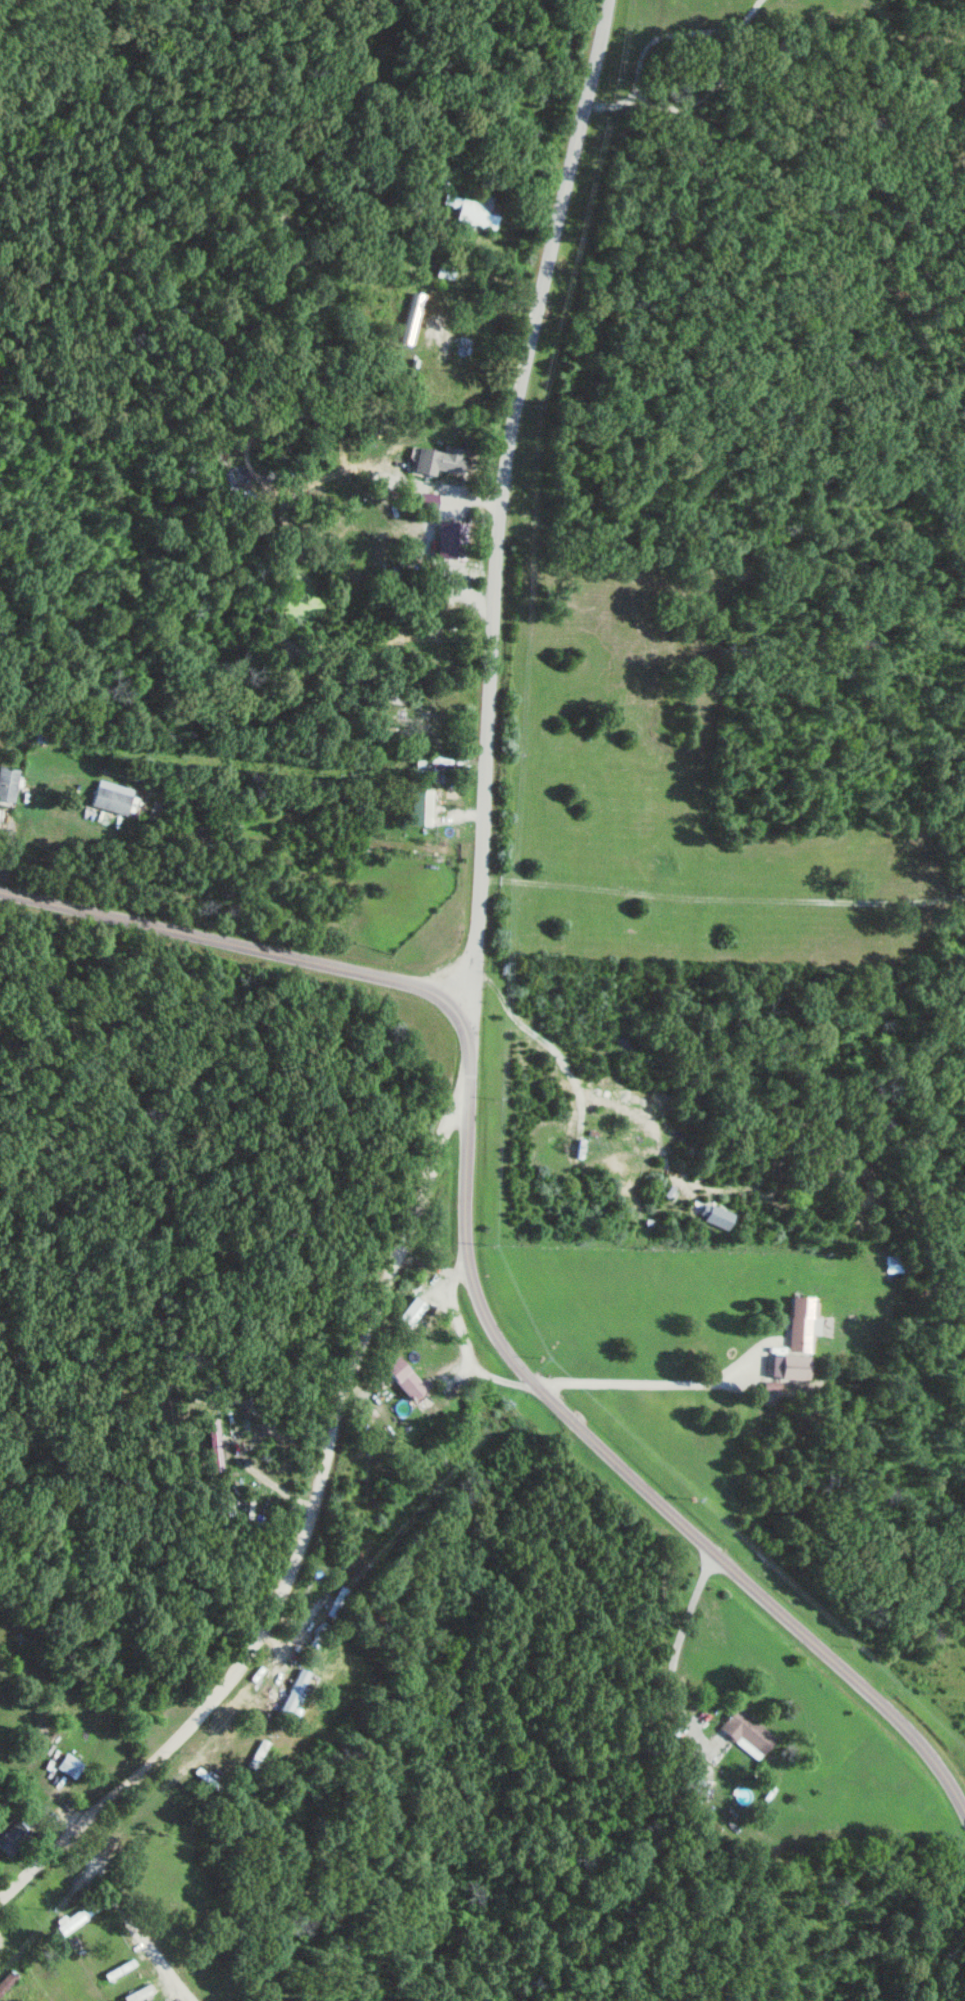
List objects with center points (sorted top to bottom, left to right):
building: (478, 210)
building: (441, 333)
building: (438, 459)
building: (427, 498)
road: (501, 499)
building: (7, 785)
building: (111, 796)
building: (420, 806)
road: (722, 906)
road: (228, 941)
building: (894, 1263)
building: (800, 1323)
building: (788, 1365)
building: (404, 1377)
road: (645, 1390)
road: (608, 1454)
road: (287, 1532)
road: (672, 1658)
building: (292, 1691)
building: (744, 1732)
building: (70, 1764)
building: (12, 1836)
road: (133, 1919)
building: (126, 1965)

